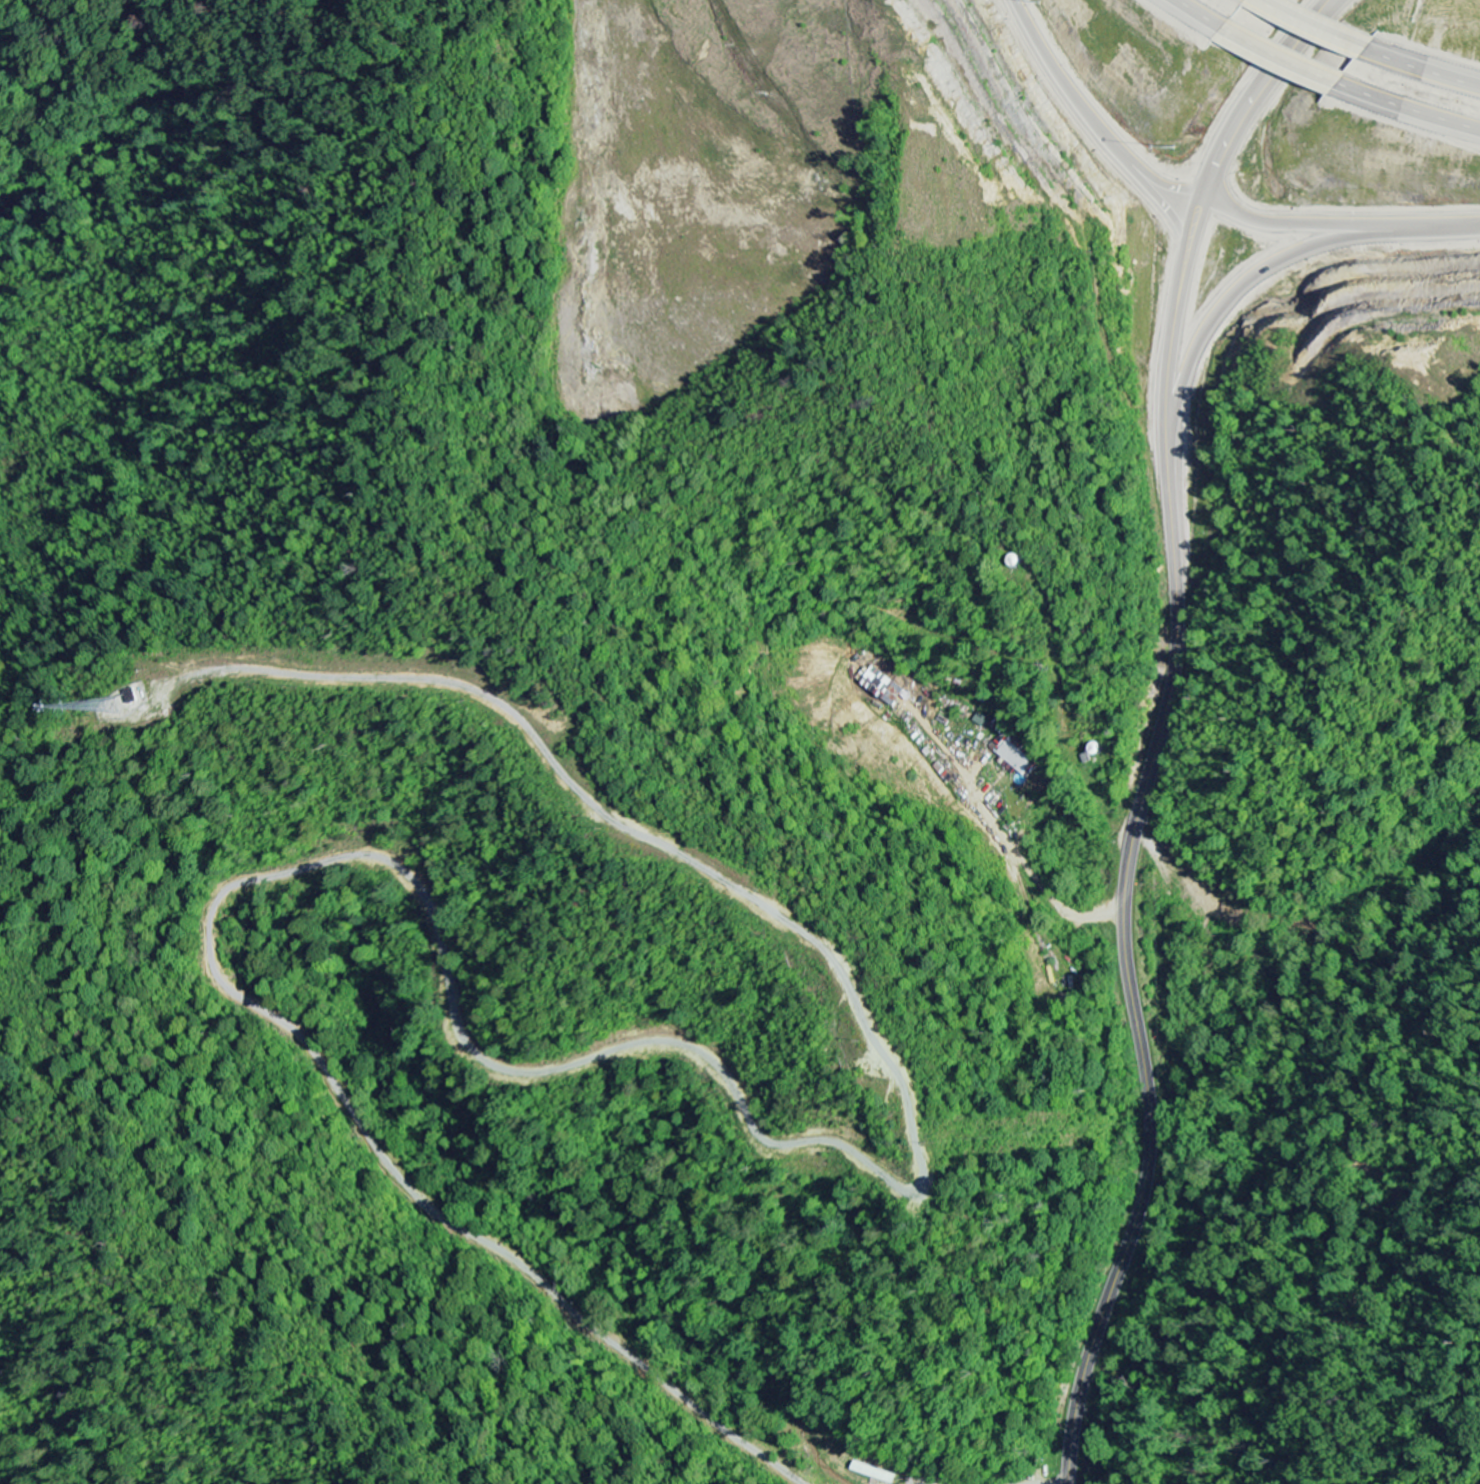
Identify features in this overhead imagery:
road: (1256, 2)
road: (1182, 17)
road: (1313, 28)
road: (1276, 59)
road: (1422, 72)
road: (1405, 111)
road: (1077, 118)
road: (1160, 203)
road: (1338, 223)
road: (1243, 282)
building: (885, 687)
road: (1161, 729)
building: (1018, 754)

